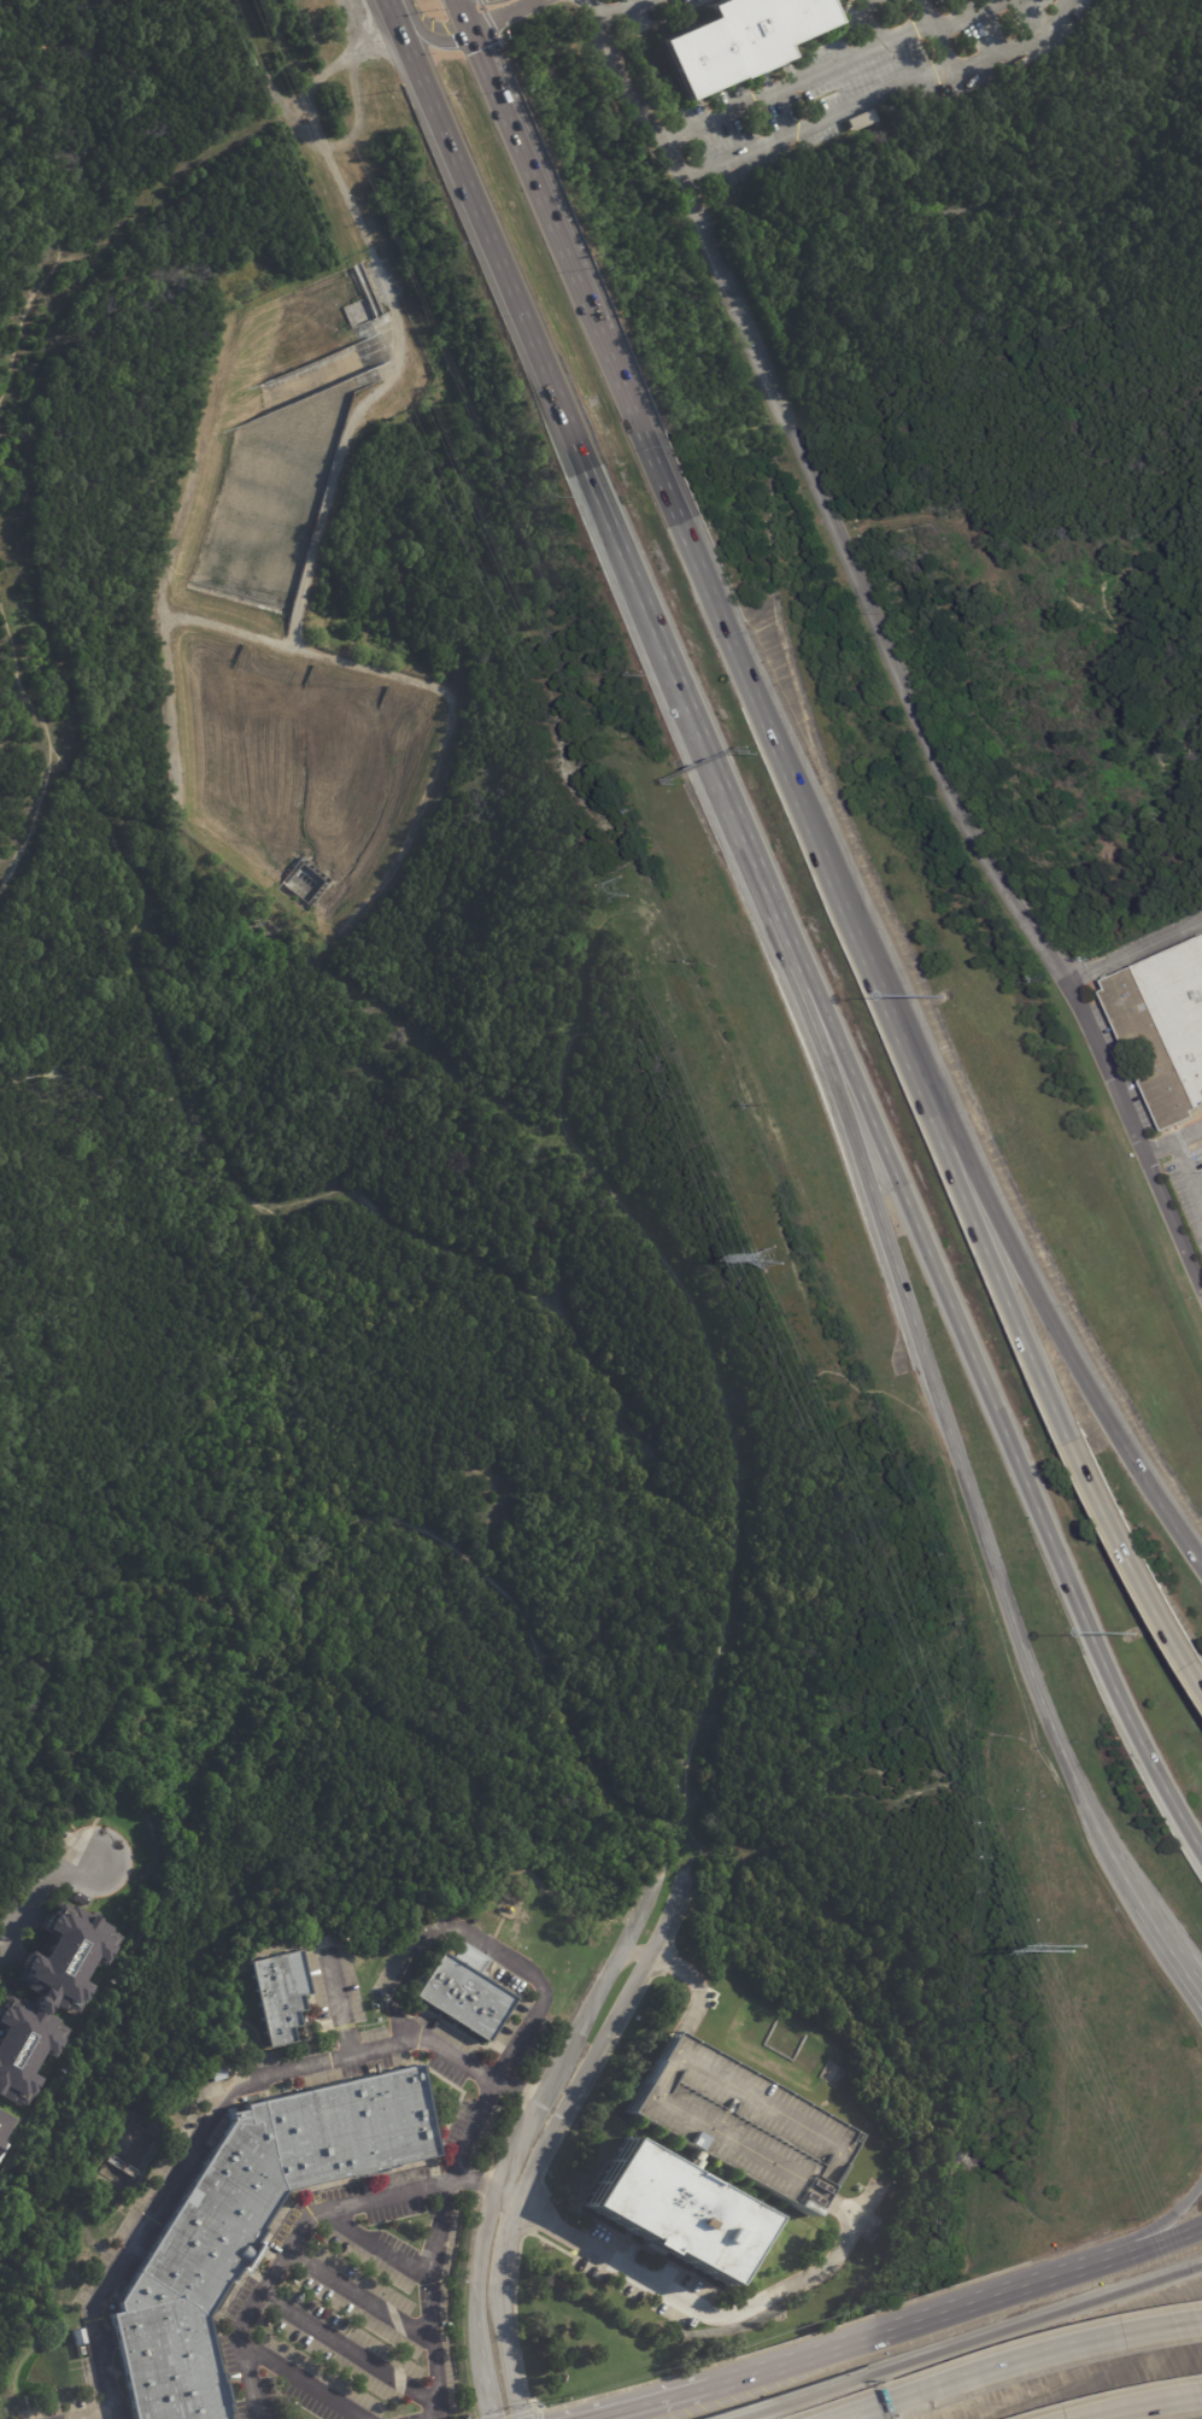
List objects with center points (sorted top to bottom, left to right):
road: (961, 8)
road: (625, 13)
road: (505, 14)
road: (464, 16)
road: (969, 16)
road: (867, 23)
traffic signals: (471, 31)
road: (933, 33)
road: (423, 35)
building: (732, 39)
road: (357, 80)
road: (796, 82)
road: (883, 93)
building: (861, 121)
road: (207, 157)
road: (22, 162)
road: (559, 230)
road: (496, 253)
road: (28, 315)
road: (400, 353)
road: (215, 388)
park: (1036, 430)
road: (658, 457)
road: (821, 493)
road: (640, 592)
road: (311, 650)
road: (761, 698)
road: (714, 773)
road: (177, 813)
road: (34, 821)
road: (417, 831)
road: (186, 839)
power tower: (605, 892)
road: (1134, 951)
road: (375, 1006)
building: (1165, 1029)
road: (175, 1060)
road: (1106, 1067)
road: (1172, 1141)
road: (889, 1162)
road: (956, 1179)
road: (1184, 1179)
road: (621, 1200)
road: (1171, 1220)
road: (1010, 1248)
power tower: (766, 1259)
road: (922, 1352)
road: (436, 1535)
road: (1132, 1562)
road: (585, 1641)
road: (1102, 1659)
road: (1120, 1867)
road: (638, 1887)
road: (39, 1900)
road: (684, 1909)
power tower: (1060, 1945)
road: (1172, 1951)
road: (632, 1952)
road: (669, 1962)
road: (694, 1982)
building: (276, 1993)
building: (48, 1996)
building: (463, 1997)
road: (341, 2005)
road: (567, 2021)
building: (217, 2073)
road: (592, 2077)
road: (497, 2080)
road: (225, 2092)
road: (526, 2093)
road: (524, 2125)
road: (553, 2130)
building: (5, 2132)
road: (502, 2137)
building: (128, 2145)
building: (715, 2156)
road: (485, 2183)
road: (516, 2200)
road: (842, 2206)
road: (536, 2213)
road: (1172, 2218)
building: (248, 2225)
road: (1172, 2238)
road: (470, 2239)
road: (375, 2242)
road: (360, 2296)
road: (946, 2313)
building: (77, 2337)
road: (963, 2344)
road: (352, 2349)
road: (1026, 2366)
road: (672, 2374)
road: (301, 2382)
road: (684, 2398)
road: (1183, 2405)
road: (522, 2411)
road: (1154, 2411)
road: (534, 2413)
road: (506, 2414)
road: (101, 2415)
road: (497, 2417)

